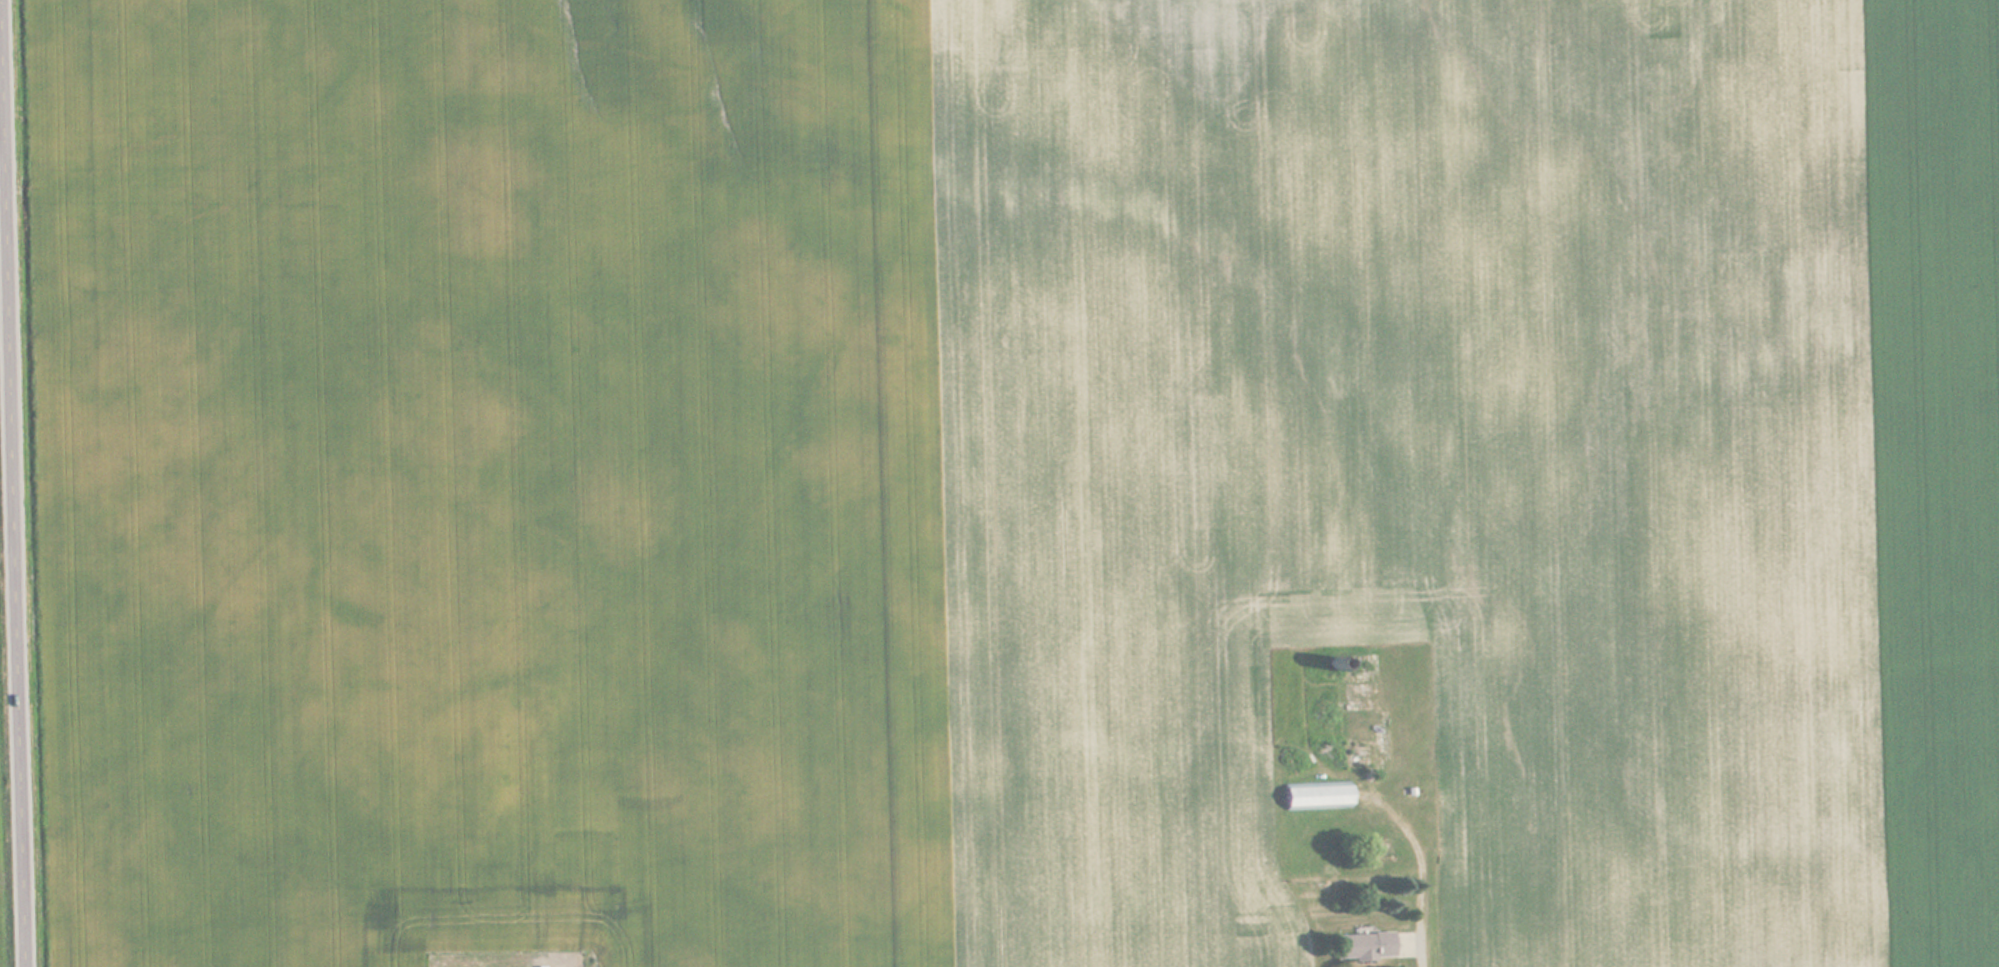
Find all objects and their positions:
road: (13, 517)
building: (1338, 663)
building: (1320, 796)
building: (1367, 946)

